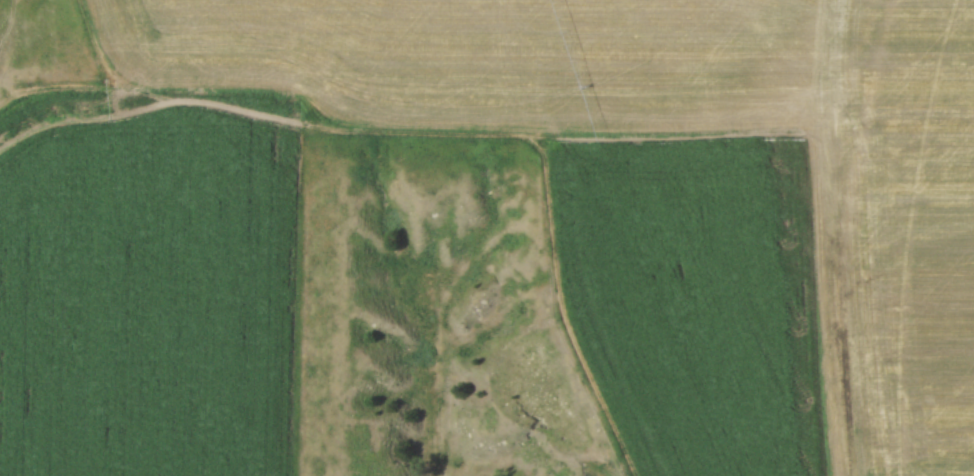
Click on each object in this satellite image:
crop: (142, 286)
crop: (699, 290)

